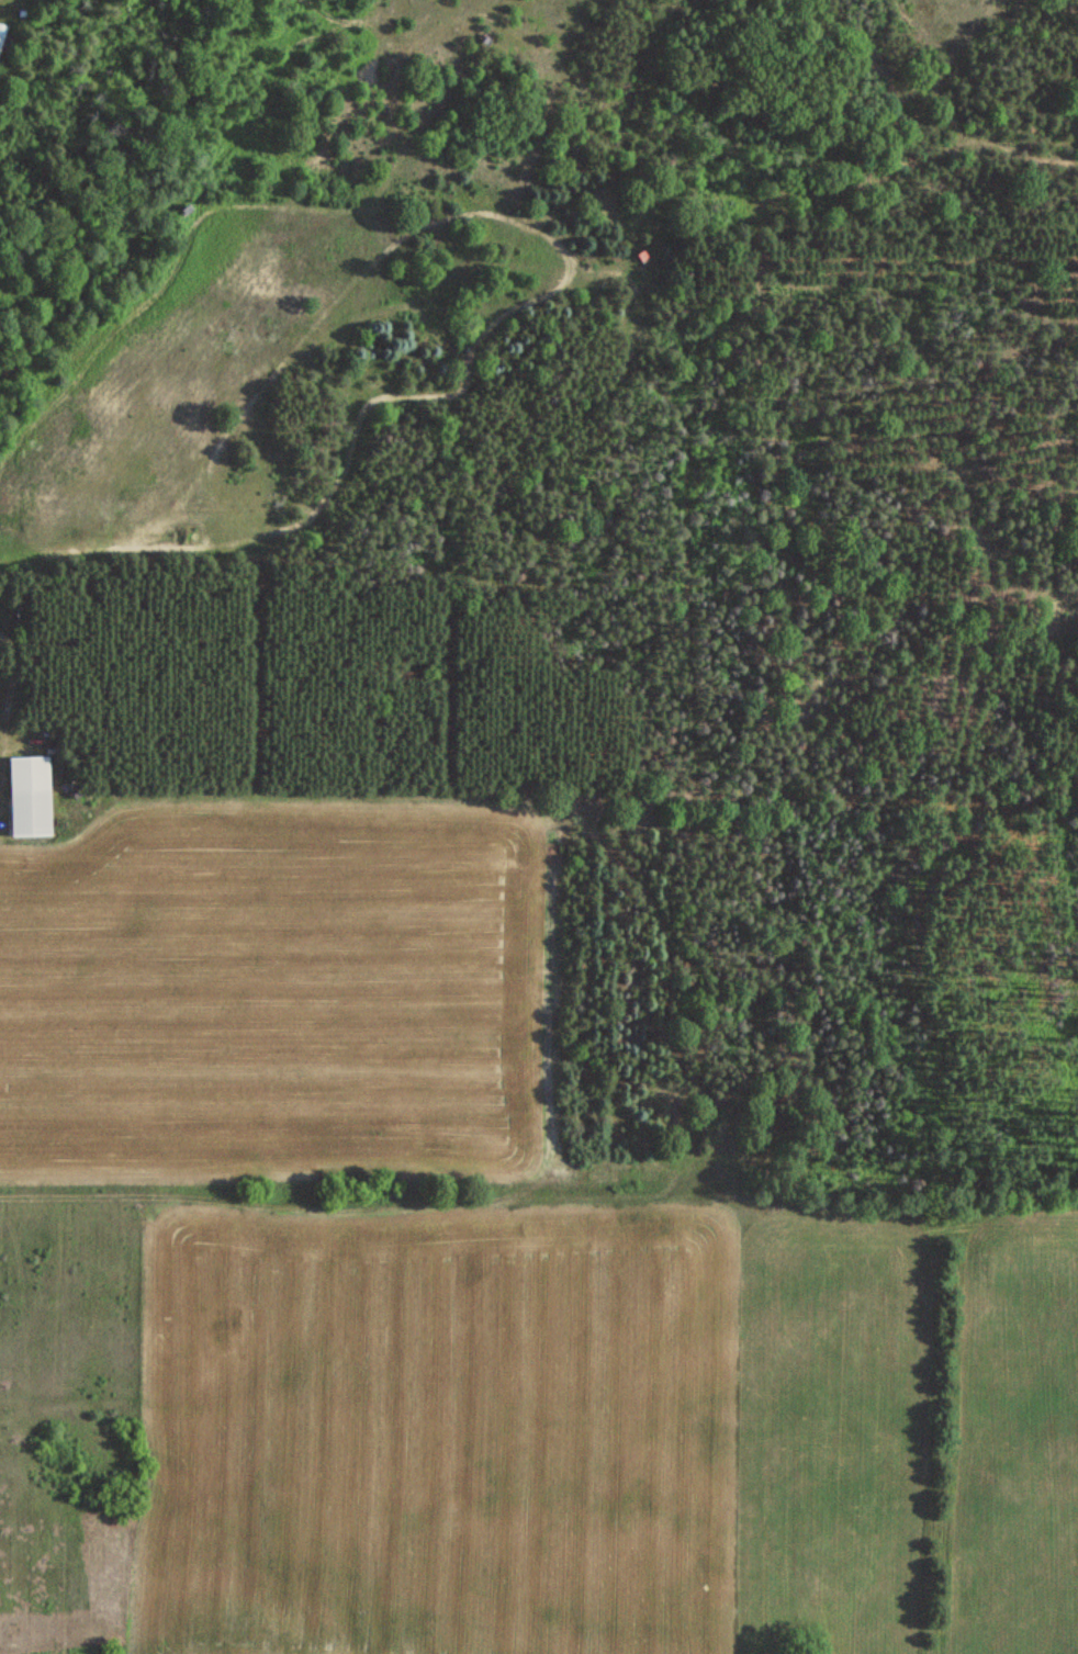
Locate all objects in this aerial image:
building: (1, 33)
building: (24, 796)

